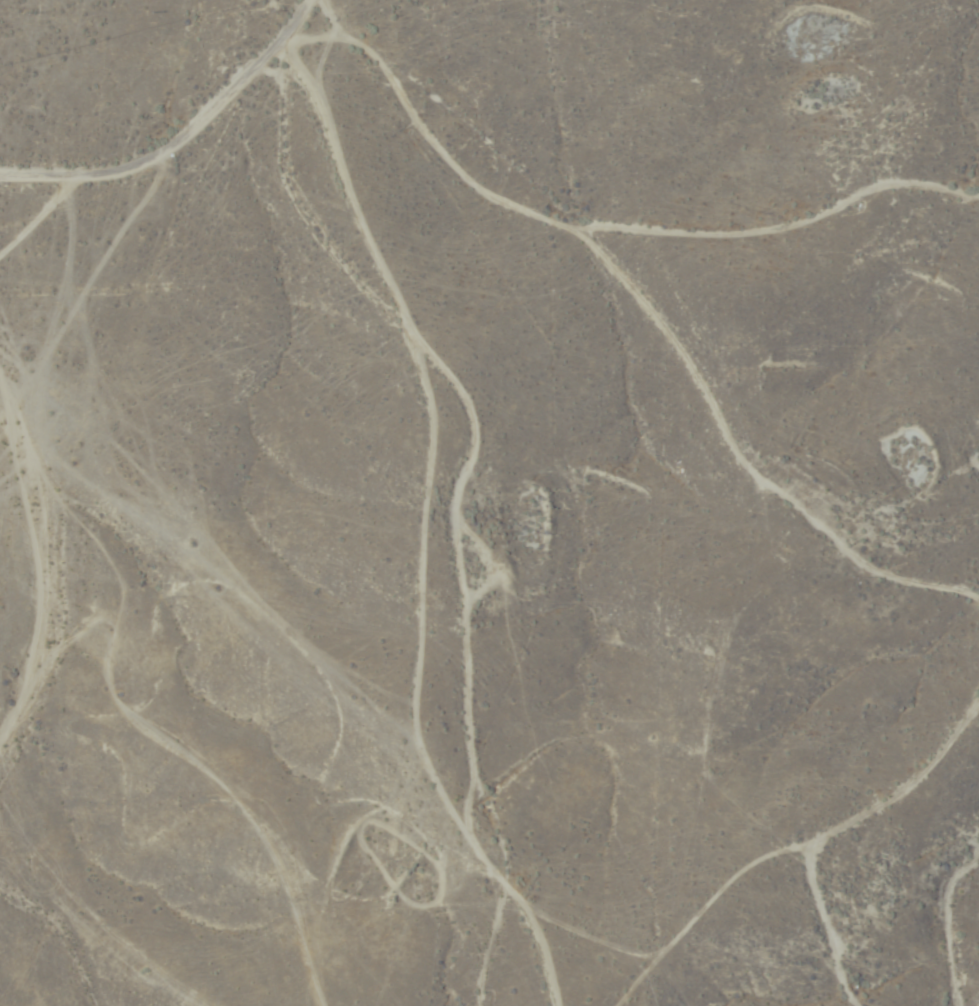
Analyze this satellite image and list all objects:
road: (216, 49)
road: (189, 120)
road: (613, 249)
road: (763, 479)

